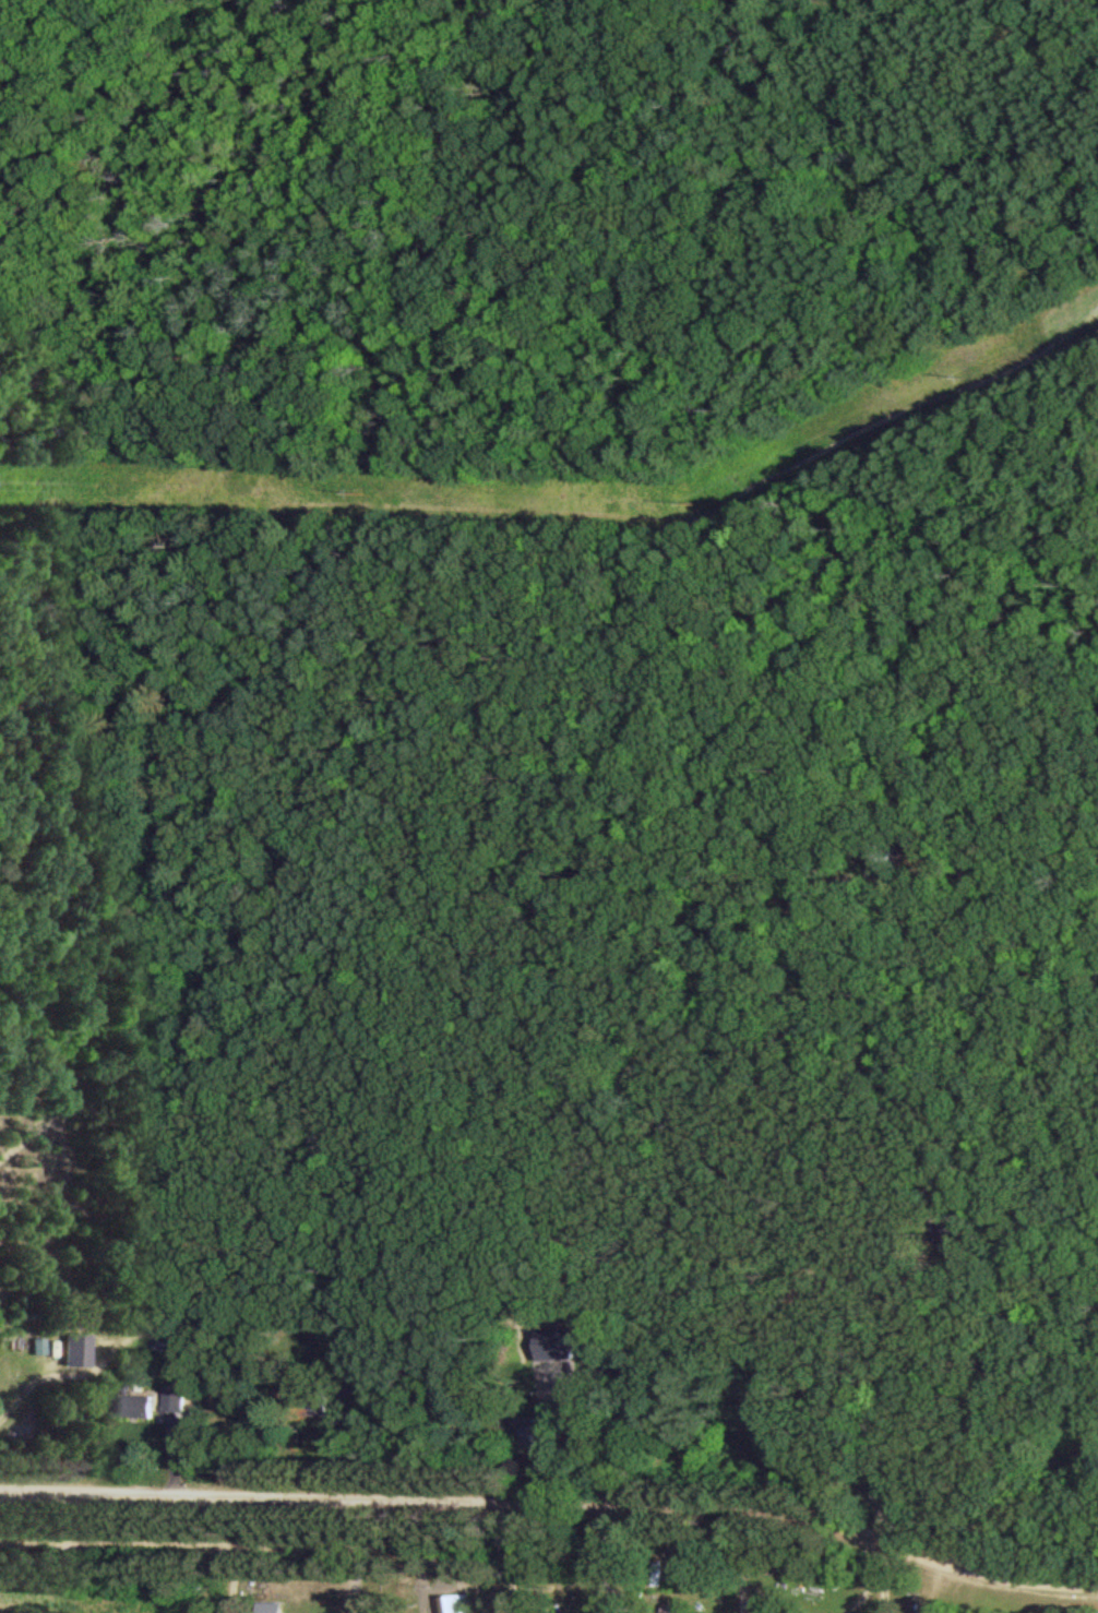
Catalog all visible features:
building: (85, 1349)
building: (135, 1402)
road: (553, 1500)
building: (676, 1612)

